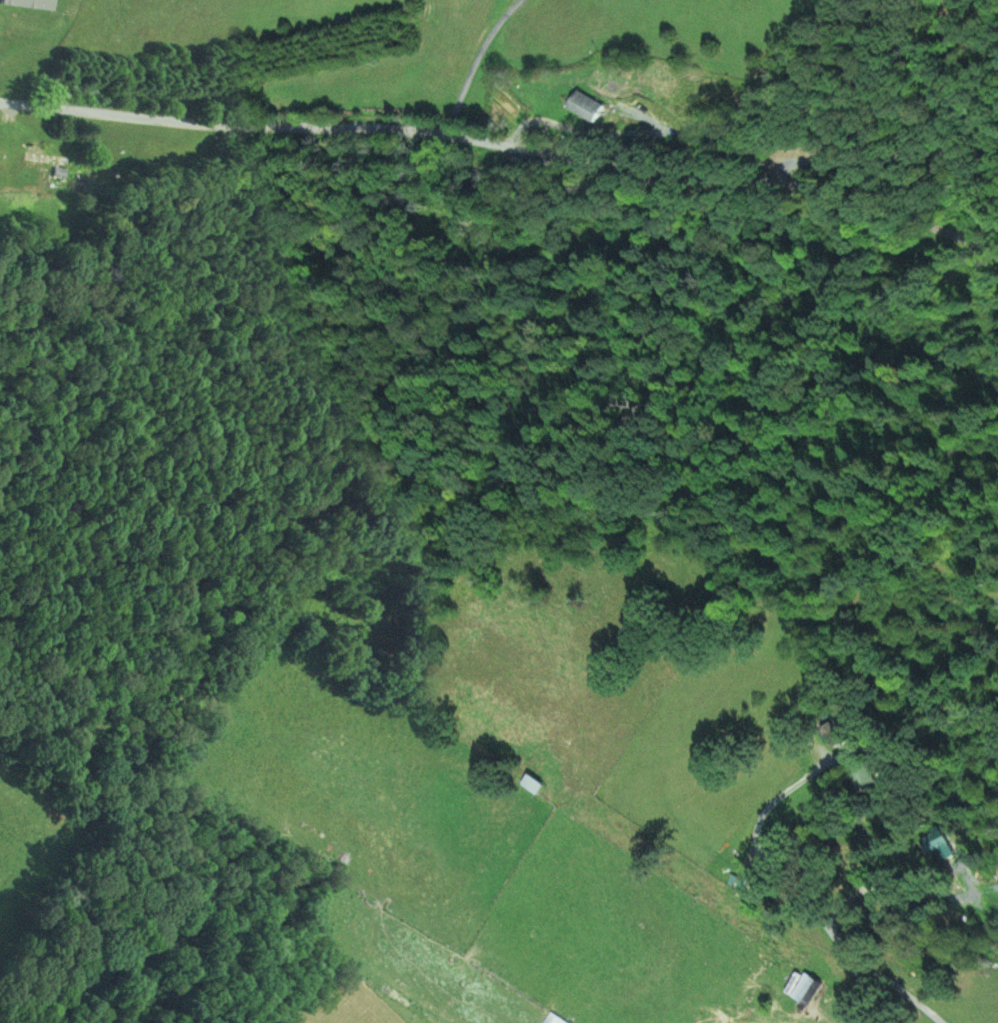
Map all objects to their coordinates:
building: (586, 106)
road: (503, 142)
building: (38, 156)
building: (532, 786)
road: (895, 942)
building: (553, 1020)

